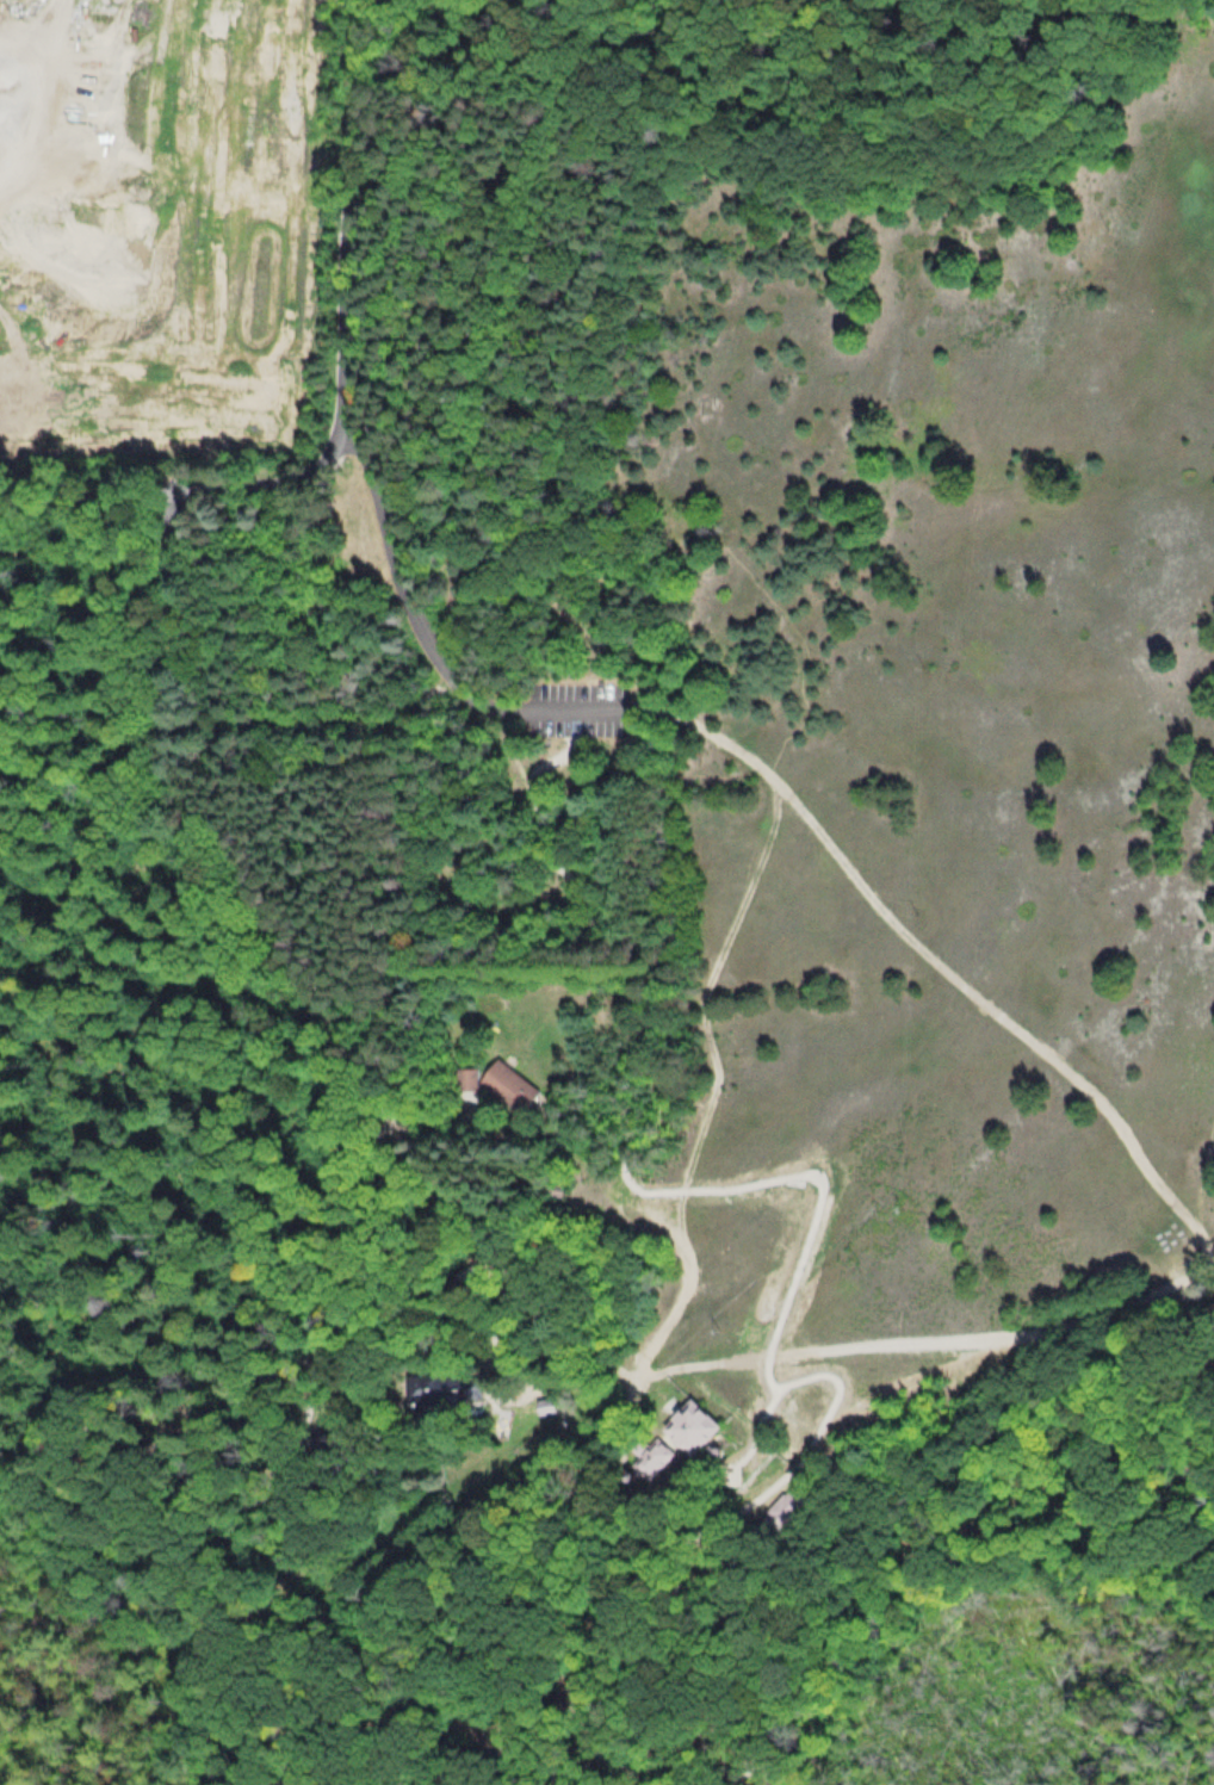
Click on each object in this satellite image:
quarry: (99, 178)
road: (364, 237)
road: (503, 326)
road: (143, 485)
road: (704, 541)
road: (423, 640)
parking lot: (571, 711)
road: (221, 804)
road: (941, 957)
road: (659, 1073)
building: (465, 1077)
building: (509, 1085)
road: (1201, 1169)
building: (1207, 1316)
road: (924, 1338)
road: (258, 1357)
road: (630, 1359)
road: (818, 1382)
road: (900, 1388)
building: (442, 1389)
building: (545, 1406)
building: (677, 1433)
building: (783, 1510)
road: (1024, 1536)
road: (837, 1587)
building: (745, 1609)
road: (591, 1741)
road: (820, 1764)

